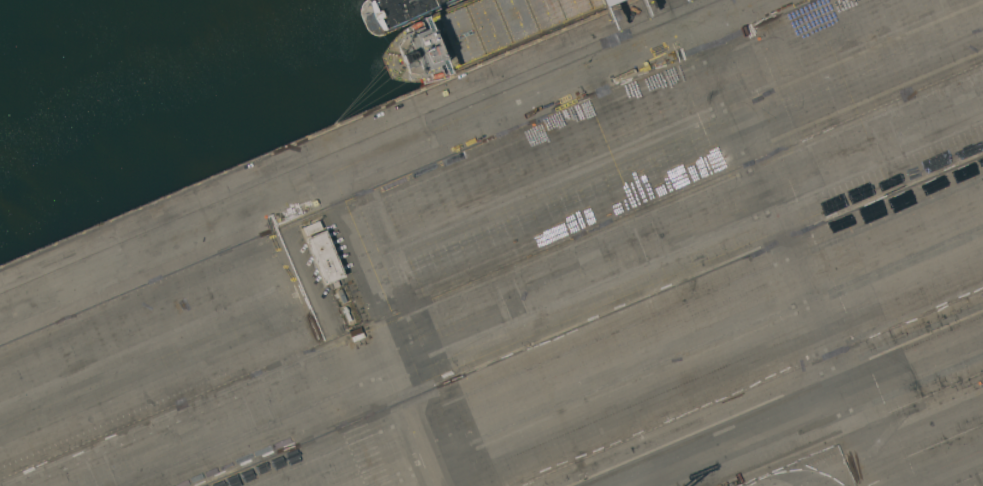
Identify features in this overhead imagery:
building: (311, 228)
building: (324, 258)

